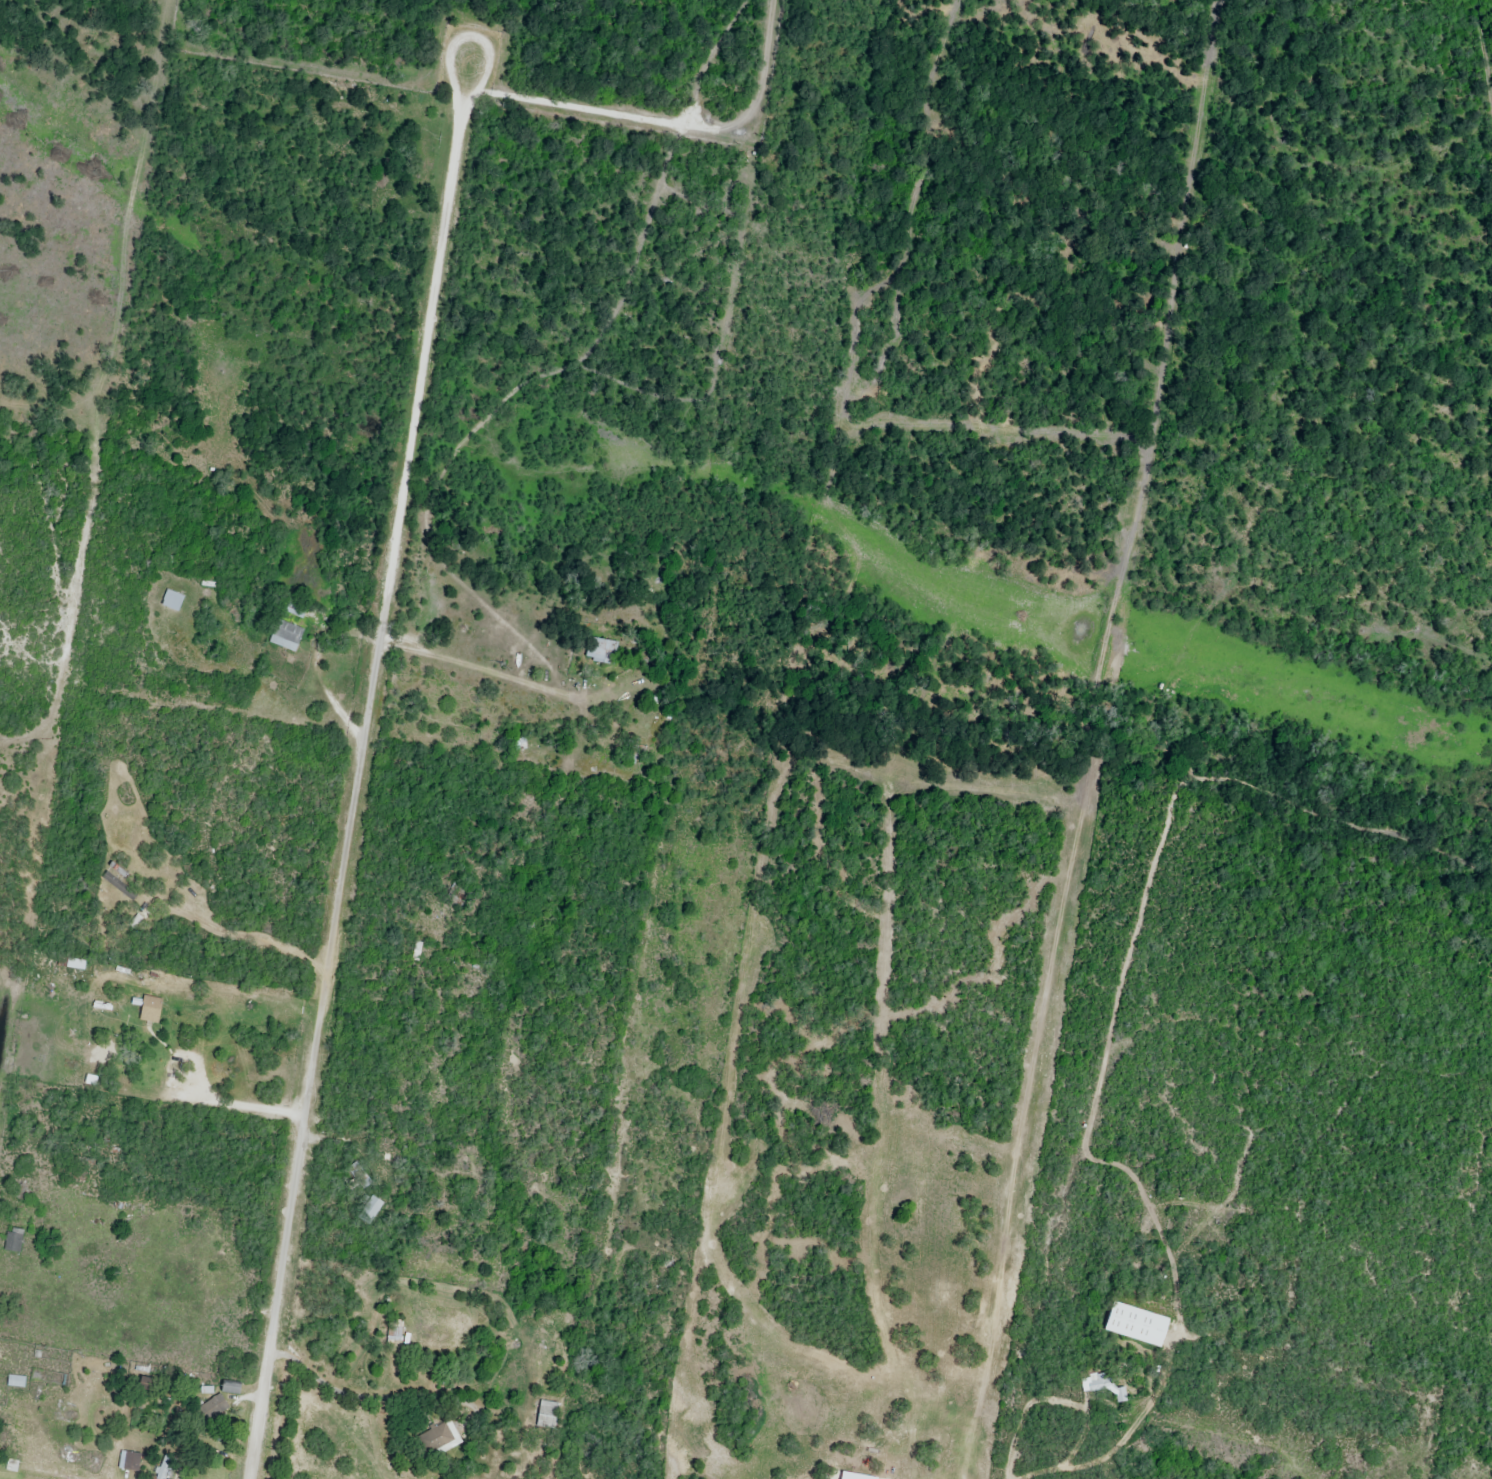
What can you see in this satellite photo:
building: (172, 601)
building: (286, 636)
building: (601, 652)
road: (476, 664)
road: (359, 768)
building: (76, 965)
building: (151, 1007)
building: (369, 1211)
building: (14, 1242)
building: (1136, 1325)
building: (394, 1331)
building: (16, 1382)
building: (148, 1385)
building: (231, 1389)
building: (212, 1410)
building: (546, 1416)
building: (437, 1439)
building: (2, 1444)
building: (129, 1461)
building: (164, 1467)

